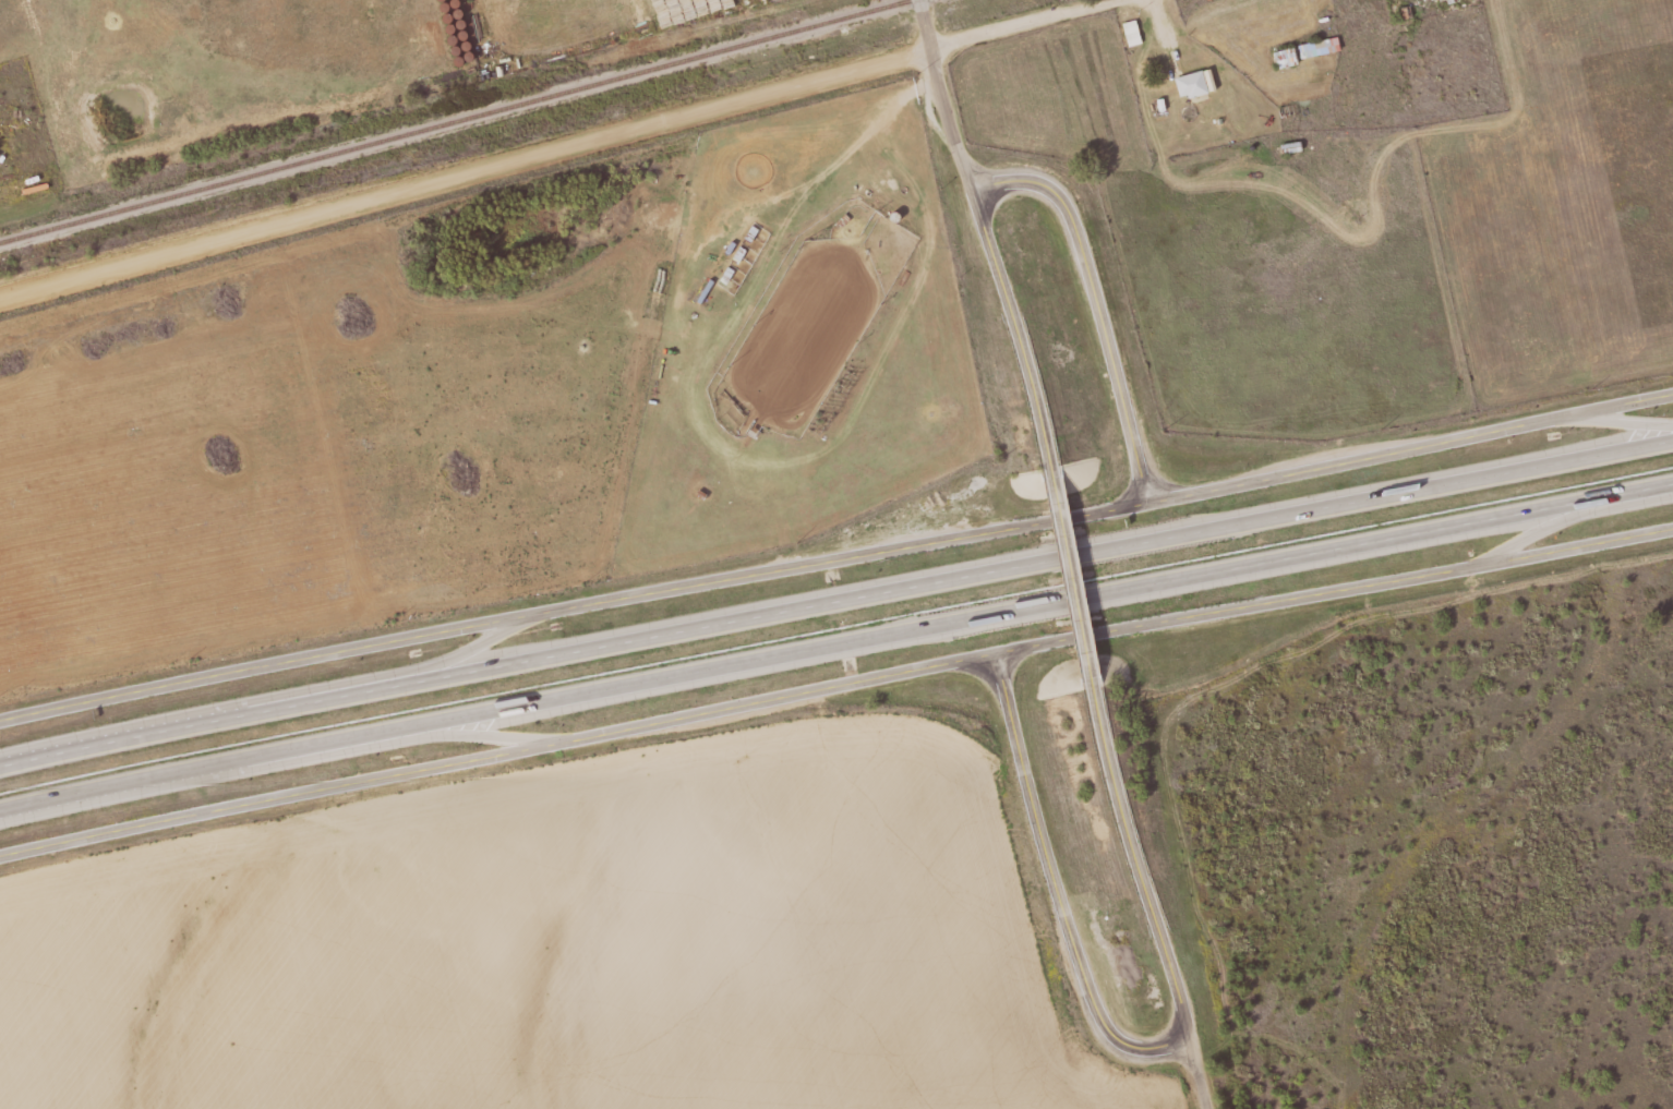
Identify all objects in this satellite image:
road: (1020, 23)
building: (1133, 33)
building: (1321, 47)
building: (1287, 57)
building: (1193, 84)
railway: (452, 120)
road: (466, 165)
road: (986, 233)
road: (1095, 298)
road: (1623, 422)
road: (1572, 515)
road: (836, 558)
road: (1072, 578)
road: (835, 601)
road: (835, 642)
road: (335, 684)
road: (833, 692)
road: (324, 755)
road: (1140, 867)
road: (1060, 895)
road: (1203, 1076)

